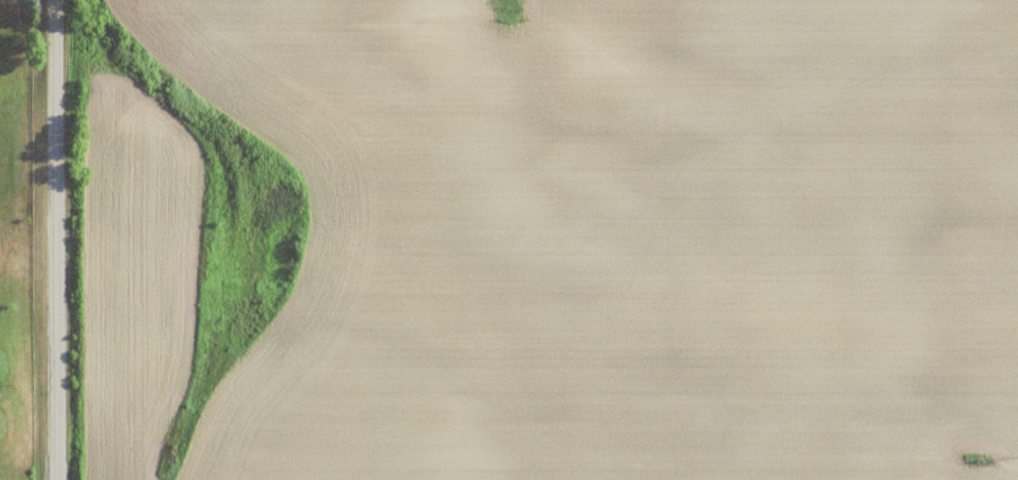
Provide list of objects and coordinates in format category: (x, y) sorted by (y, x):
road: (55, 239)
crop: (548, 239)
park: (19, 247)

